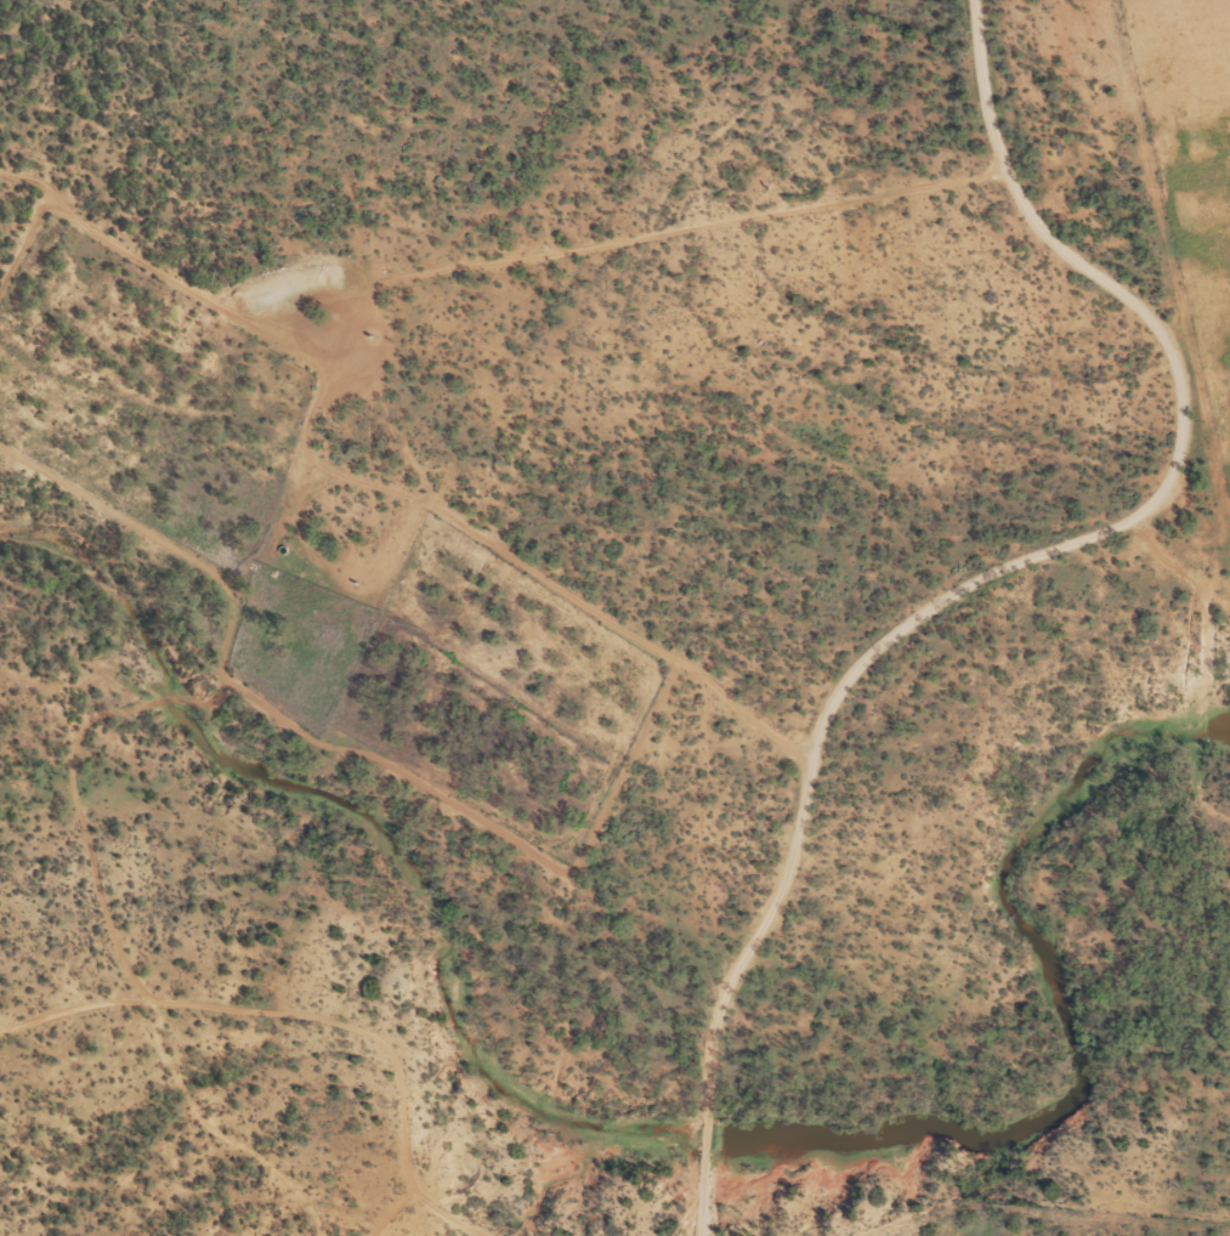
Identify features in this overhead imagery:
road: (435, 509)
road: (988, 578)

